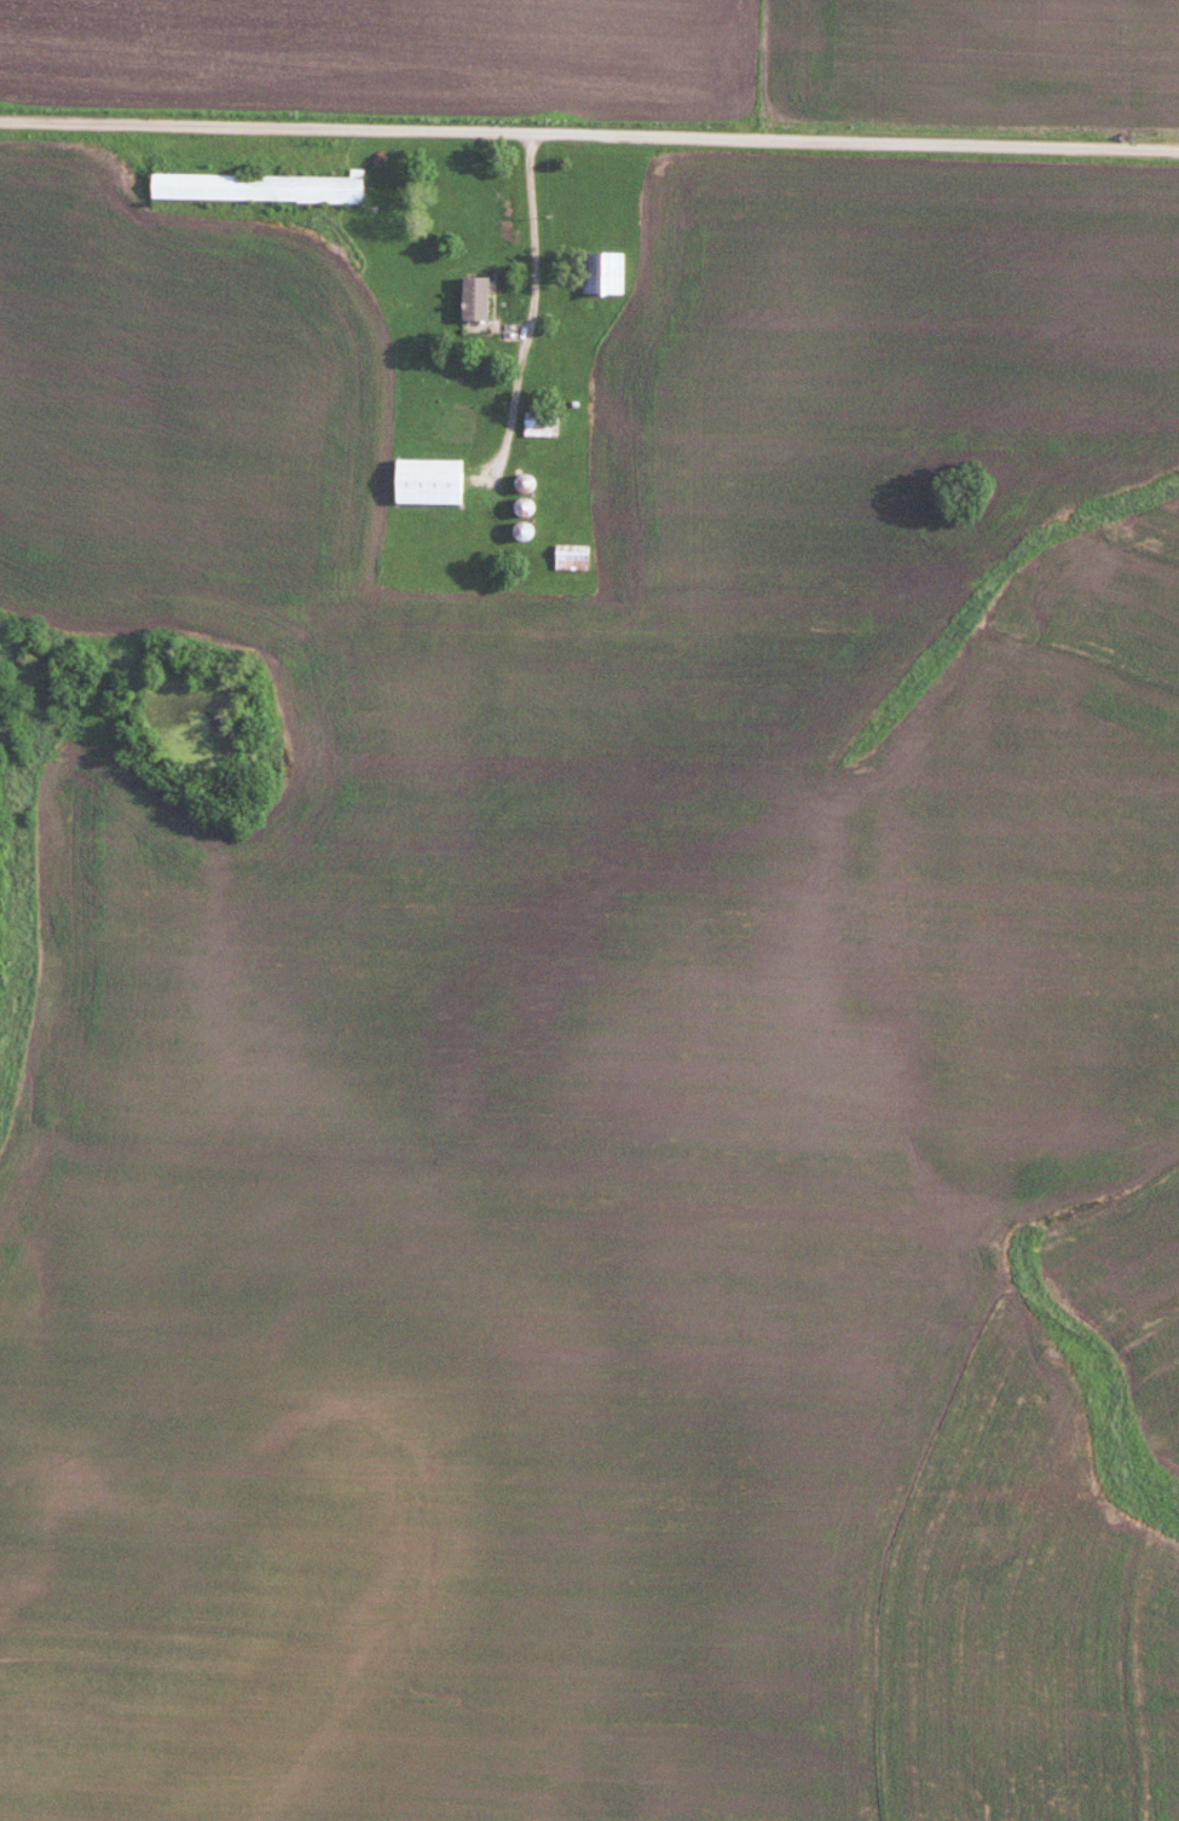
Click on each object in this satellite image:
road: (589, 132)
building: (258, 186)
road: (534, 235)
building: (602, 273)
building: (475, 297)
building: (538, 423)
building: (428, 481)
building: (524, 482)
building: (571, 555)

